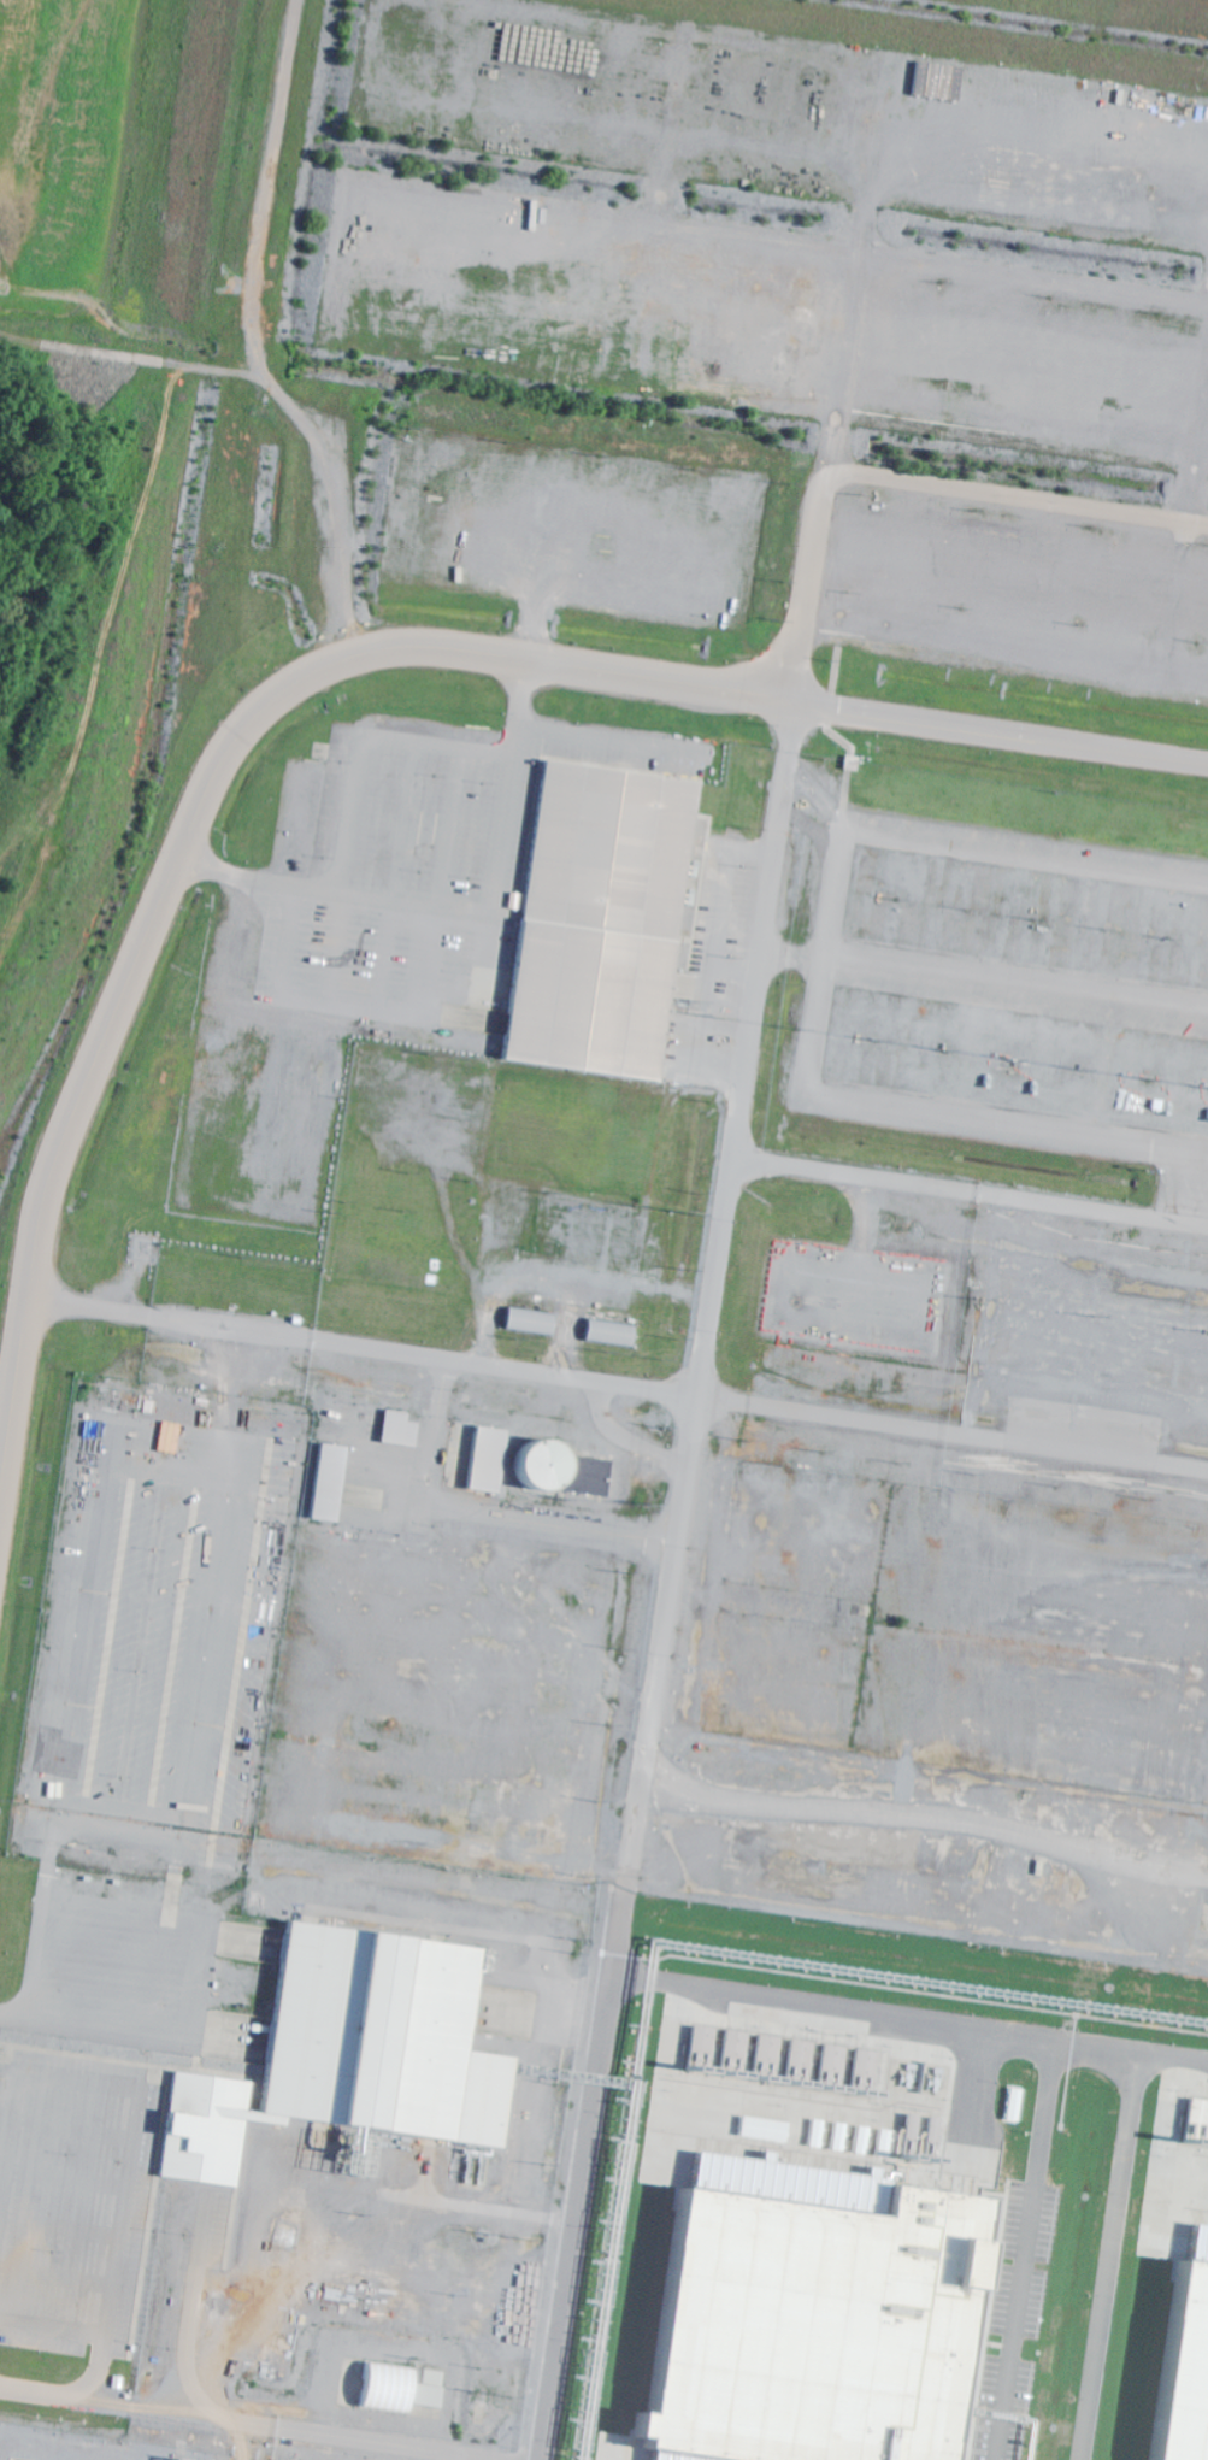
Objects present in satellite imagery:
road: (849, 298)
road: (1017, 494)
road: (541, 557)
road: (464, 566)
road: (340, 612)
road: (338, 663)
road: (608, 738)
road: (784, 775)
road: (818, 795)
road: (750, 849)
road: (1027, 853)
parking lot: (431, 854)
road: (344, 883)
road: (393, 900)
road: (441, 907)
road: (462, 912)
building: (600, 919)
road: (733, 966)
road: (1017, 978)
road: (708, 982)
road: (871, 1110)
road: (732, 1122)
road: (1190, 1187)
road: (1095, 1205)
building: (529, 1320)
building: (608, 1332)
building: (396, 1428)
road: (154, 1444)
building: (485, 1459)
building: (562, 1470)
building: (326, 1482)
road: (664, 1590)
road: (47, 1858)
road: (173, 1887)
road: (914, 1935)
road: (34, 1950)
road: (130, 2032)
building: (336, 2049)
building: (761, 2054)
building: (760, 2129)
road: (71, 2130)
road: (129, 2166)
road: (64, 2178)
road: (59, 2227)
road: (55, 2277)
building: (794, 2315)
road: (52, 2327)
building: (1183, 2368)
building: (393, 2389)
road: (218, 2414)

